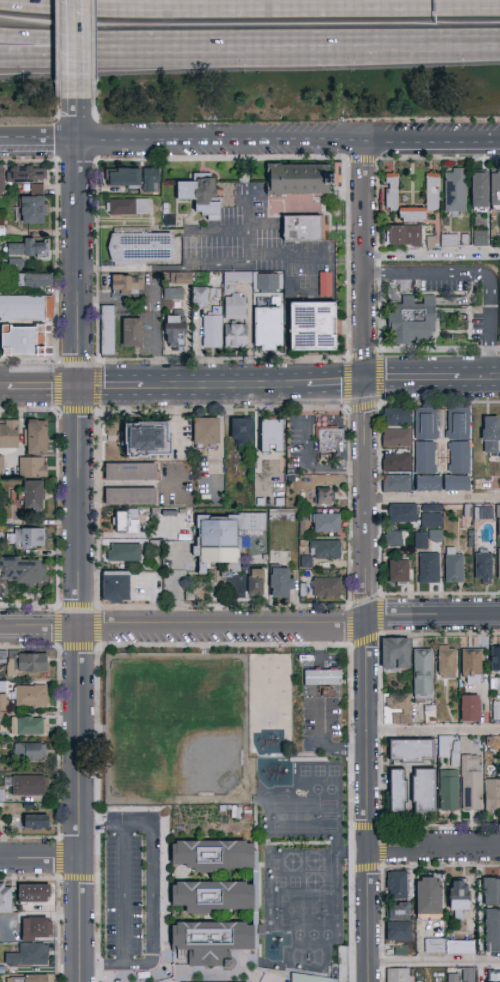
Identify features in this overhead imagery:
road: (249, 7)
road: (90, 48)
road: (409, 50)
road: (250, 53)
road: (90, 55)
road: (79, 56)
road: (16, 137)
road: (266, 137)
road: (16, 140)
building: (27, 175)
building: (136, 178)
building: (2, 179)
building: (301, 179)
building: (33, 187)
building: (473, 188)
building: (491, 188)
building: (432, 191)
building: (455, 191)
building: (201, 195)
road: (245, 199)
road: (365, 203)
building: (129, 207)
building: (33, 211)
building: (302, 228)
building: (404, 236)
building: (477, 236)
building: (449, 240)
building: (29, 247)
building: (142, 249)
road: (433, 253)
building: (12, 262)
road: (477, 271)
building: (499, 274)
building: (181, 278)
building: (35, 280)
building: (326, 284)
building: (126, 285)
building: (173, 294)
building: (200, 297)
building: (235, 307)
building: (497, 308)
building: (26, 309)
building: (412, 321)
building: (314, 326)
road: (366, 327)
building: (212, 329)
building: (269, 329)
building: (108, 330)
building: (175, 331)
building: (132, 333)
building: (236, 335)
building: (23, 341)
road: (463, 379)
road: (397, 381)
traffic signals: (367, 383)
road: (337, 385)
road: (229, 387)
road: (40, 389)
road: (115, 389)
traffic signals: (80, 390)
building: (396, 417)
building: (206, 433)
building: (241, 433)
building: (9, 434)
building: (491, 435)
building: (272, 436)
building: (38, 437)
building: (396, 438)
building: (458, 439)
building: (148, 440)
building: (330, 440)
building: (425, 440)
road: (304, 459)
building: (396, 462)
building: (1, 466)
building: (8, 467)
building: (34, 467)
building: (132, 471)
building: (397, 483)
road: (128, 484)
building: (428, 484)
building: (456, 484)
building: (325, 495)
building: (31, 496)
building: (131, 497)
road: (433, 497)
building: (483, 513)
building: (402, 514)
building: (282, 515)
building: (431, 516)
building: (128, 522)
building: (325, 522)
building: (499, 527)
building: (26, 538)
building: (424, 538)
building: (393, 539)
building: (224, 540)
road: (79, 547)
building: (325, 549)
building: (124, 553)
building: (453, 565)
building: (483, 565)
building: (499, 565)
building: (428, 568)
building: (23, 571)
building: (398, 572)
building: (256, 582)
building: (281, 582)
building: (116, 587)
building: (327, 587)
road: (250, 623)
building: (396, 653)
building: (3, 658)
building: (495, 659)
building: (446, 661)
building: (28, 663)
building: (471, 666)
building: (422, 673)
building: (323, 678)
road: (367, 682)
building: (497, 682)
building: (3, 687)
building: (31, 696)
building: (3, 703)
road: (319, 707)
building: (470, 708)
building: (494, 709)
building: (400, 710)
building: (29, 725)
park: (174, 727)
road: (434, 732)
building: (445, 745)
building: (30, 751)
building: (410, 751)
building: (472, 782)
building: (29, 786)
building: (424, 790)
building: (449, 790)
building: (397, 791)
building: (0, 794)
building: (493, 794)
building: (38, 822)
road: (433, 848)
building: (214, 855)
road: (40, 859)
building: (397, 885)
building: (491, 892)
building: (35, 893)
road: (123, 896)
building: (214, 896)
building: (428, 896)
road: (151, 897)
building: (5, 898)
building: (459, 898)
building: (398, 911)
building: (37, 929)
building: (492, 930)
building: (399, 932)
building: (211, 942)
building: (449, 946)
building: (397, 950)
building: (29, 956)
road: (434, 963)
building: (397, 975)
building: (468, 975)
building: (30, 978)
building: (314, 978)
building: (452, 978)

